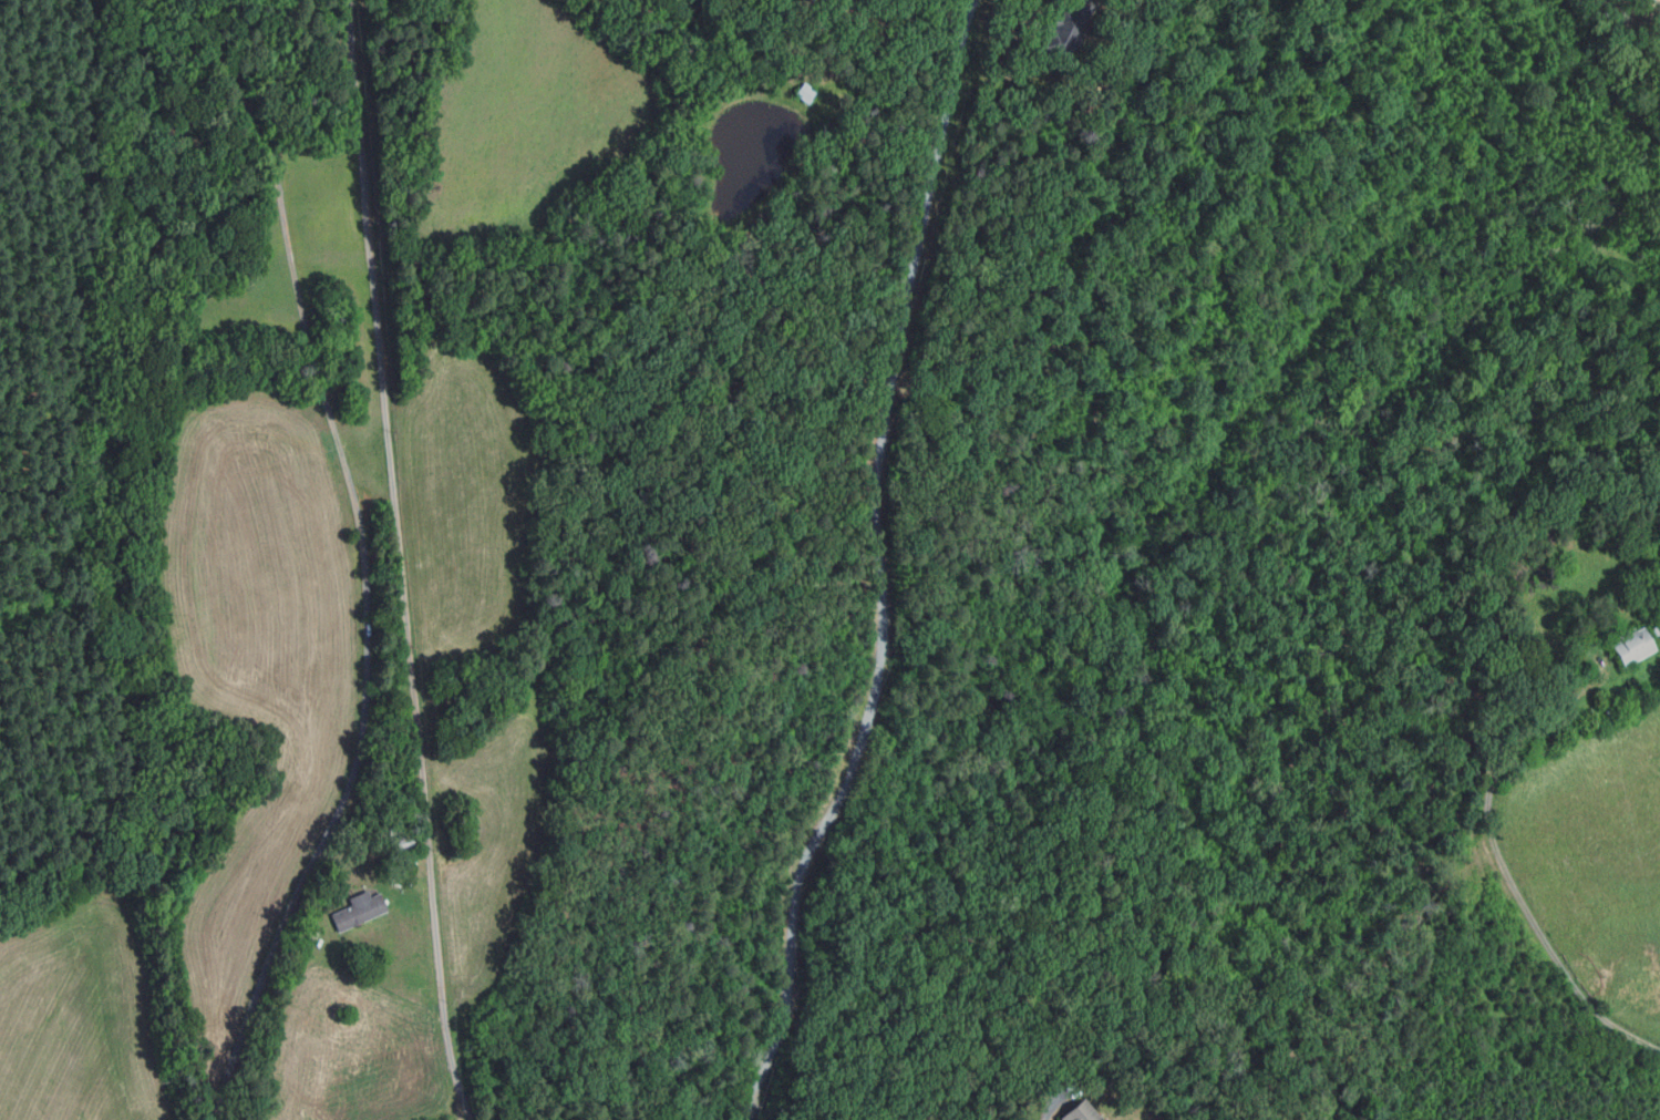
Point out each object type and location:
building: (1064, 29)
building: (804, 92)
road: (365, 558)
road: (400, 562)
road: (878, 566)
building: (1654, 630)
building: (1631, 645)
building: (395, 829)
building: (403, 844)
road: (1511, 881)
building: (396, 883)
building: (338, 895)
building: (359, 913)
building: (312, 935)
road: (1050, 1107)
building: (1081, 1112)

